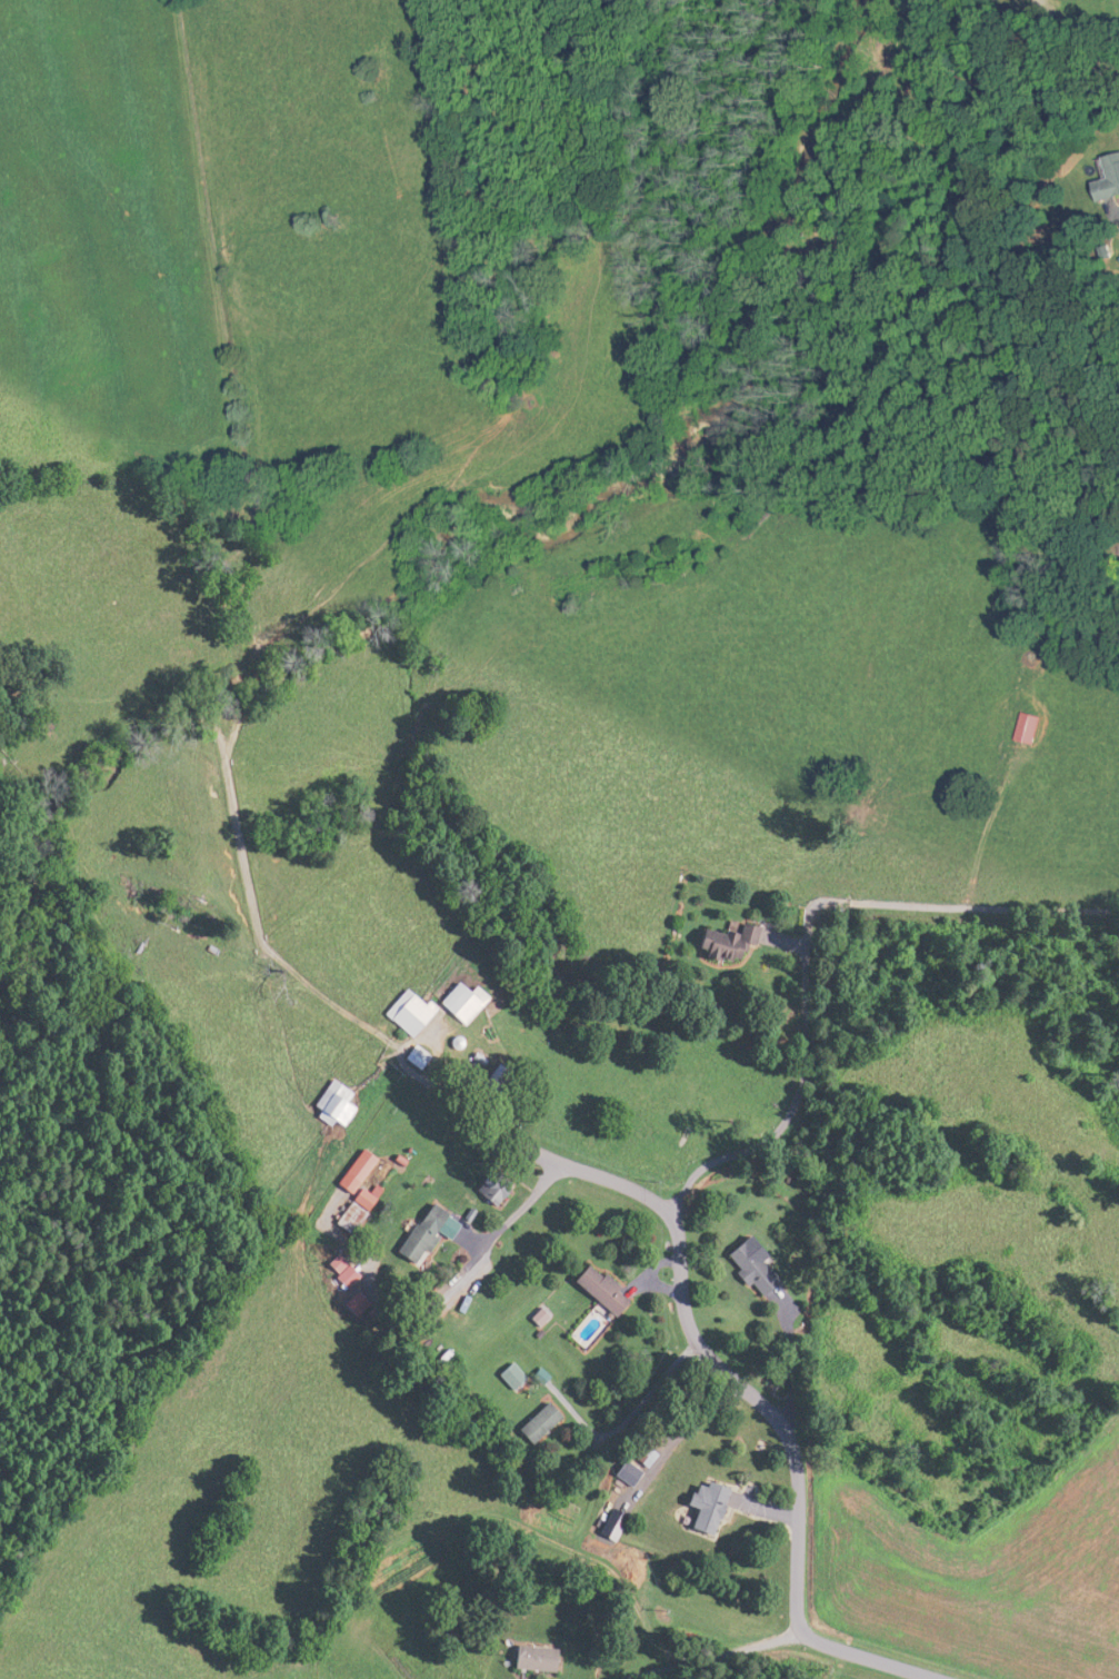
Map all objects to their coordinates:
building: (1103, 178)
road: (1117, 219)
building: (1020, 728)
building: (722, 941)
building: (457, 1001)
building: (401, 1011)
building: (328, 1103)
road: (792, 1103)
road: (538, 1155)
building: (487, 1186)
road: (521, 1206)
building: (343, 1216)
building: (416, 1232)
building: (746, 1266)
building: (595, 1288)
road: (775, 1415)
building: (534, 1421)
building: (625, 1472)
building: (701, 1506)
road: (710, 1656)
building: (528, 1658)
road: (872, 1658)

